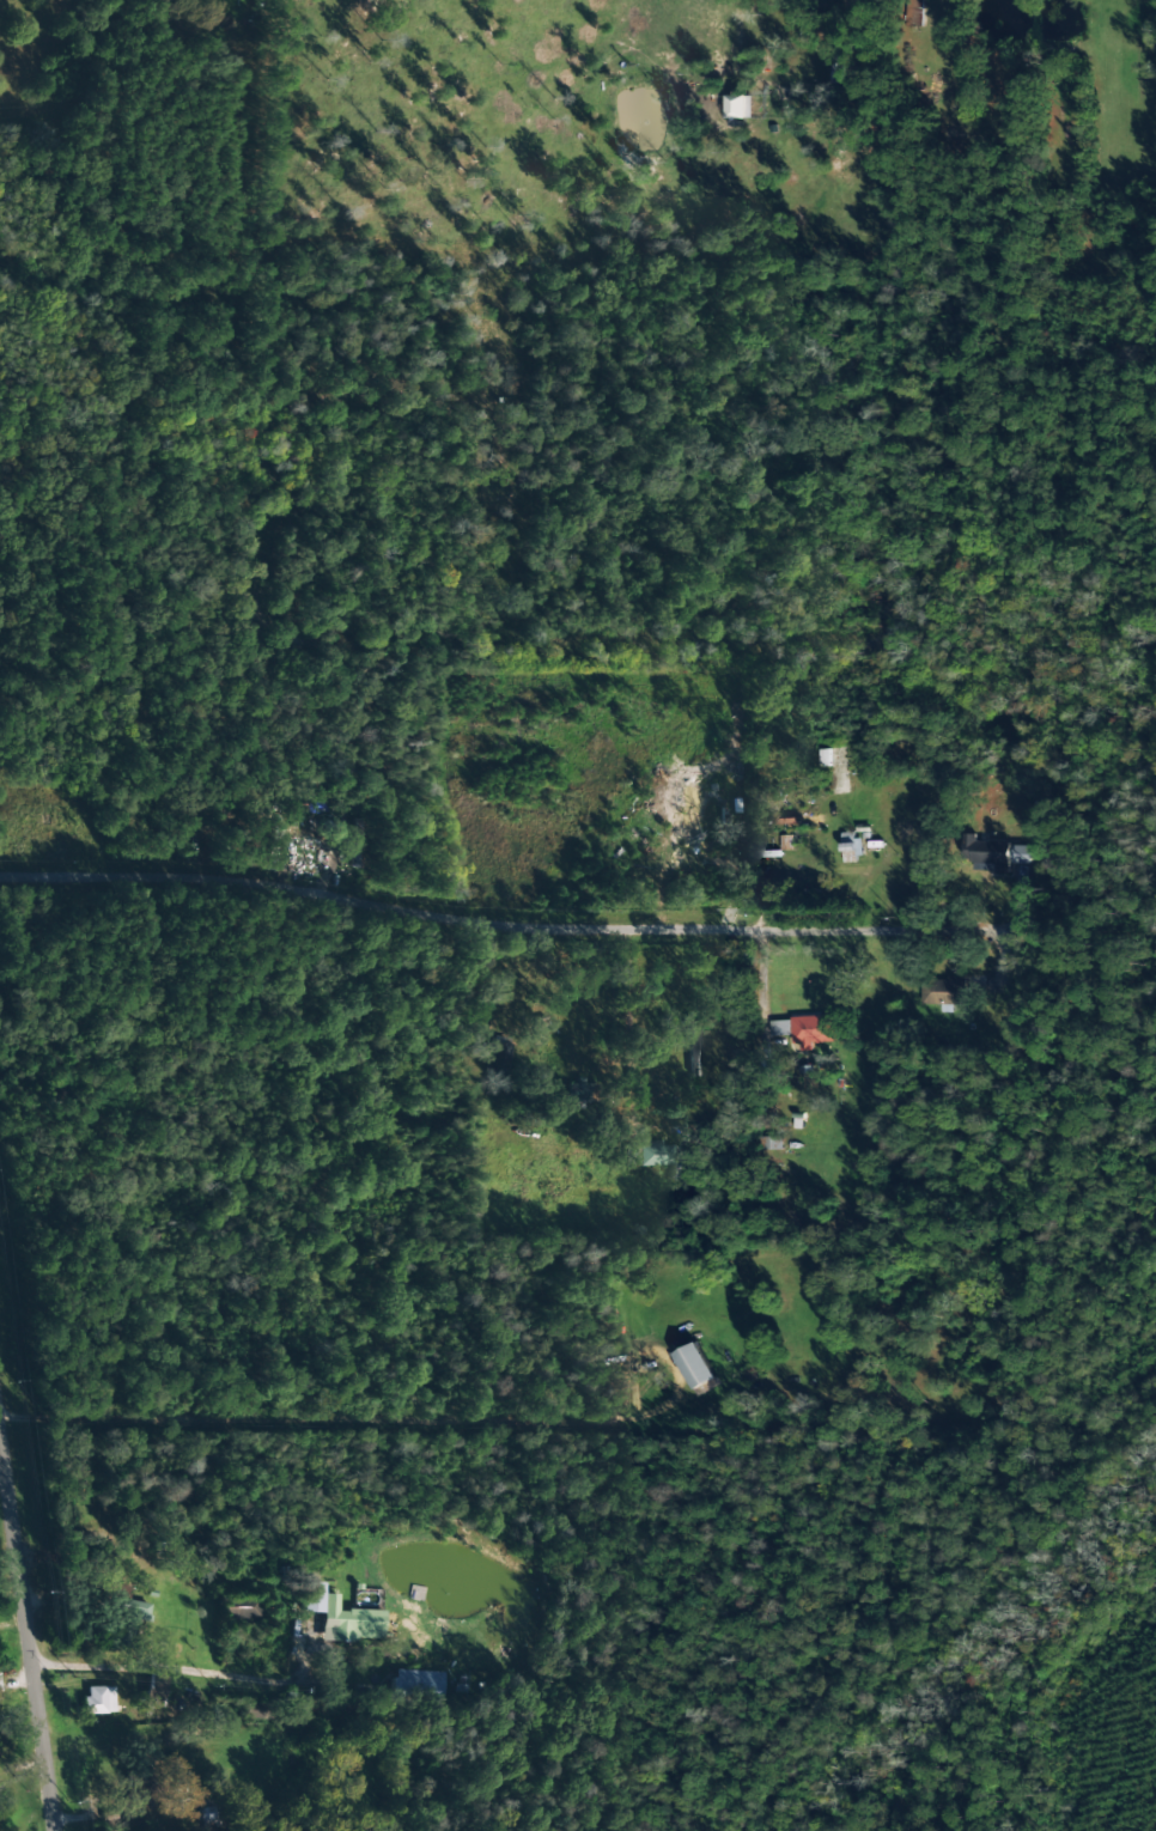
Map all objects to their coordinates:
building: (740, 105)
building: (787, 841)
building: (987, 853)
building: (1021, 853)
road: (504, 921)
building: (944, 990)
building: (808, 1029)
building: (499, 1058)
building: (647, 1154)
building: (696, 1365)
road: (320, 1412)
building: (243, 1607)
building: (340, 1617)
road: (23, 1624)
road: (120, 1661)
building: (416, 1685)
building: (154, 1691)
building: (98, 1699)
building: (257, 1711)
building: (206, 1815)

